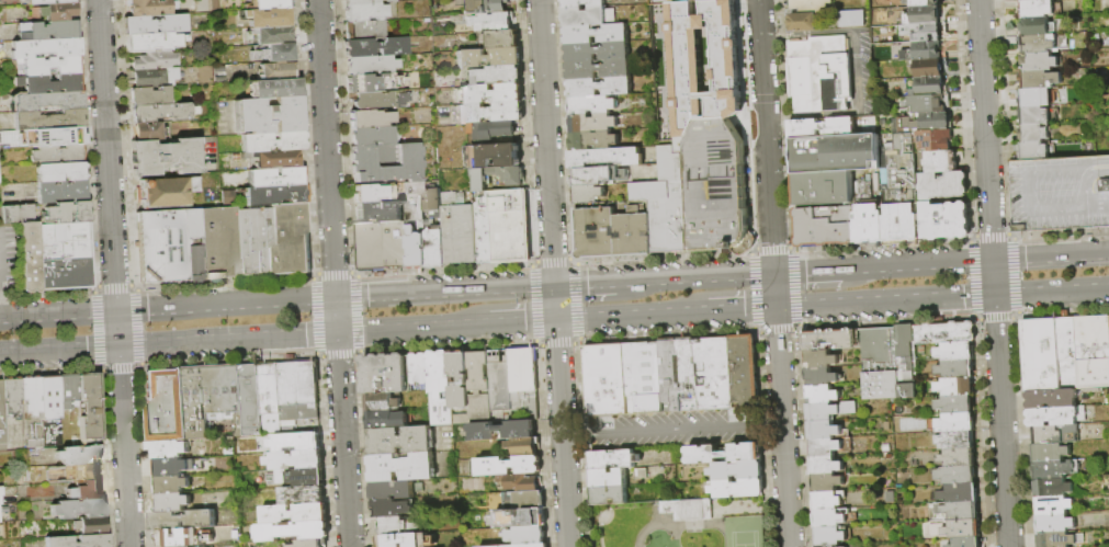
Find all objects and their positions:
building: (690, 0)
building: (1033, 0)
building: (49, 1)
building: (389, 1)
building: (359, 2)
building: (920, 2)
building: (582, 3)
building: (269, 4)
building: (810, 5)
building: (149, 7)
building: (484, 7)
building: (1039, 9)
building: (58, 11)
building: (364, 12)
building: (925, 15)
building: (590, 16)
building: (267, 18)
building: (852, 20)
building: (490, 22)
building: (804, 23)
building: (154, 24)
building: (1043, 26)
building: (50, 30)
building: (364, 30)
building: (924, 33)
building: (271, 34)
building: (596, 34)
road: (807, 35)
building: (499, 39)
building: (152, 42)
building: (1041, 45)
building: (375, 47)
building: (43, 50)
building: (273, 53)
building: (597, 53)
building: (923, 53)
building: (488, 58)
building: (154, 60)
building: (701, 61)
building: (1041, 62)
building: (370, 65)
building: (52, 66)
building: (928, 69)
building: (598, 70)
building: (278, 71)
road: (857, 71)
building: (819, 75)
building: (497, 76)
building: (154, 77)
building: (1041, 80)
building: (53, 83)
building: (372, 83)
building: (926, 87)
building: (275, 88)
building: (600, 88)
building: (489, 94)
building: (149, 95)
building: (1036, 98)
building: (381, 100)
building: (49, 102)
building: (930, 104)
building: (592, 105)
building: (159, 113)
building: (488, 113)
building: (268, 115)
building: (1036, 116)
building: (369, 118)
building: (48, 119)
building: (924, 123)
building: (595, 124)
building: (821, 128)
building: (489, 130)
road: (984, 130)
building: (148, 132)
building: (1034, 134)
building: (2, 136)
building: (59, 136)
building: (371, 136)
building: (272, 141)
building: (593, 141)
building: (936, 141)
road: (327, 149)
building: (1036, 151)
building: (59, 155)
building: (836, 155)
road: (106, 156)
building: (165, 157)
building: (490, 157)
building: (272, 158)
building: (606, 158)
building: (386, 162)
building: (941, 162)
building: (61, 171)
building: (275, 176)
building: (598, 176)
building: (0, 180)
building: (496, 180)
building: (943, 187)
building: (716, 189)
building: (822, 189)
building: (61, 191)
building: (167, 192)
building: (372, 193)
building: (901, 193)
building: (1061, 194)
building: (274, 195)
building: (588, 195)
building: (430, 201)
building: (414, 202)
building: (665, 204)
building: (378, 212)
building: (68, 213)
building: (19, 214)
building: (867, 216)
building: (947, 221)
building: (509, 227)
building: (824, 227)
building: (456, 230)
building: (483, 235)
building: (595, 235)
building: (632, 235)
building: (290, 240)
building: (64, 241)
building: (218, 242)
building: (253, 242)
building: (192, 244)
building: (160, 246)
building: (381, 247)
building: (433, 248)
building: (415, 250)
building: (32, 258)
road: (1050, 258)
parking lot: (10, 259)
traffic signals: (993, 262)
road: (915, 266)
building: (66, 273)
road: (553, 273)
road: (772, 273)
road: (806, 273)
traffic signals: (773, 274)
road: (993, 277)
road: (700, 278)
road: (590, 285)
traffic signals: (554, 287)
road: (1051, 290)
road: (444, 293)
traffic signals: (994, 294)
traffic signals: (336, 299)
road: (884, 300)
road: (225, 306)
traffic signals: (774, 307)
road: (740, 308)
traffic signals: (115, 312)
road: (57, 315)
road: (631, 315)
road: (336, 316)
traffic signals: (556, 319)
road: (522, 321)
road: (116, 328)
road: (412, 328)
traffic signals: (337, 332)
building: (947, 333)
road: (226, 338)
building: (829, 340)
traffic signals: (117, 344)
road: (58, 347)
building: (957, 352)
building: (1091, 353)
building: (1067, 354)
building: (1041, 355)
building: (821, 360)
building: (907, 363)
building: (881, 364)
building: (420, 369)
building: (957, 369)
building: (522, 371)
building: (745, 371)
building: (384, 373)
building: (688, 375)
building: (715, 375)
building: (670, 377)
building: (821, 377)
building: (645, 378)
building: (500, 380)
building: (607, 380)
building: (297, 381)
building: (479, 383)
building: (460, 385)
building: (957, 387)
building: (440, 388)
building: (67, 389)
building: (223, 391)
building: (822, 395)
building: (11, 396)
building: (270, 398)
building: (1052, 399)
building: (382, 400)
building: (251, 401)
building: (192, 403)
building: (89, 404)
building: (162, 404)
building: (957, 406)
building: (31, 409)
building: (49, 410)
building: (298, 411)
building: (830, 411)
building: (1, 415)
building: (1056, 417)
building: (385, 419)
road: (1000, 420)
building: (957, 423)
road: (765, 424)
road: (671, 430)
building: (503, 431)
parking lot: (675, 431)
building: (824, 431)
building: (1055, 435)
road: (578, 437)
road: (342, 438)
building: (400, 441)
building: (957, 441)
building: (295, 442)
building: (12, 444)
road: (123, 445)
building: (523, 447)
building: (830, 447)
building: (168, 449)
building: (229, 452)
building: (1051, 453)
building: (725, 454)
building: (79, 455)
building: (958, 458)
building: (613, 459)
building: (294, 460)
building: (506, 466)
building: (826, 466)
building: (171, 467)
building: (400, 467)
building: (1055, 469)
building: (737, 471)
building: (83, 472)
building: (958, 476)
building: (301, 477)
building: (609, 478)
building: (520, 482)
building: (827, 483)
building: (171, 485)
building: (738, 489)
building: (1053, 489)
building: (84, 490)
building: (395, 490)
building: (960, 494)
building: (302, 495)
building: (609, 495)
building: (516, 501)
building: (828, 501)
building: (172, 502)
building: (1053, 506)
building: (78, 508)
building: (392, 509)
building: (688, 510)
building: (955, 511)
building: (293, 513)
building: (518, 518)
building: (831, 518)
building: (182, 520)
road: (710, 523)
building: (1054, 523)
park: (682, 524)
building: (90, 525)
building: (392, 526)
building: (963, 529)
building: (290, 532)
park: (740, 533)
building: (235, 535)
building: (527, 535)
building: (830, 536)
building: (182, 537)
building: (1056, 539)
building: (78, 540)
building: (403, 540)
building: (966, 543)
building: (307, 544)
building: (530, 546)
building: (831, 546)

